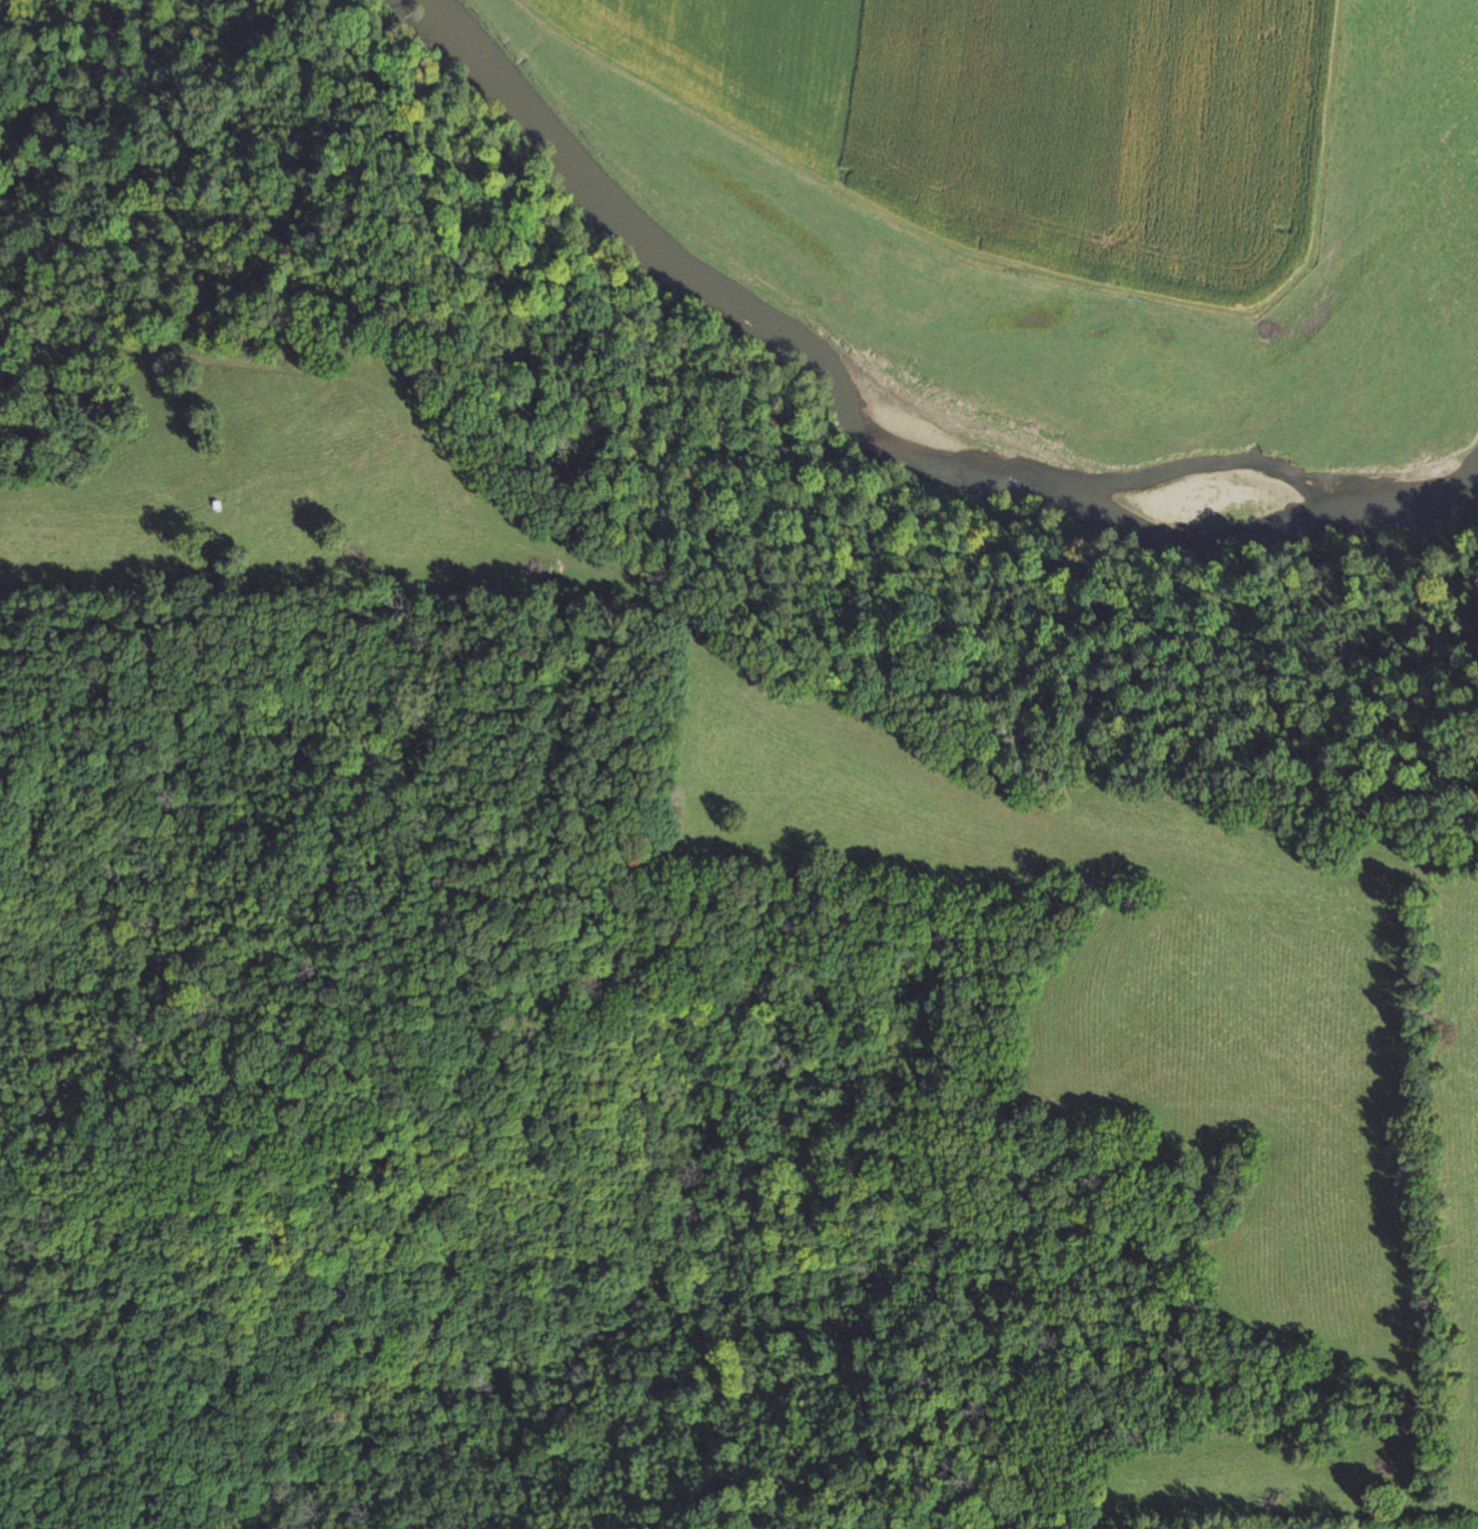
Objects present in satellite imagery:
river: (886, 407)

